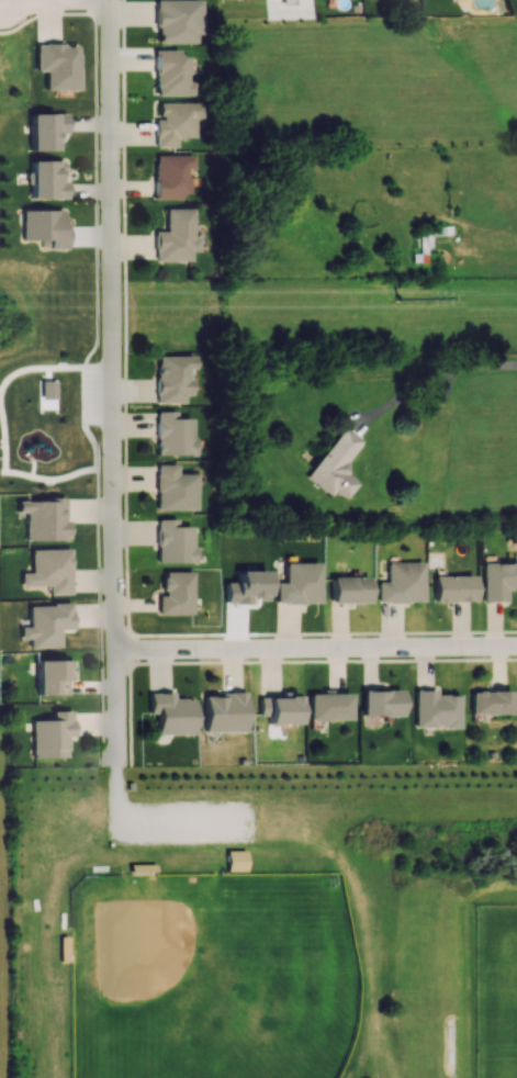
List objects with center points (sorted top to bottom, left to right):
road: (55, 0)
building: (176, 21)
building: (57, 66)
building: (170, 74)
building: (175, 122)
building: (45, 130)
building: (171, 176)
building: (46, 180)
building: (44, 227)
road: (89, 235)
building: (175, 236)
power tower: (403, 304)
road: (83, 378)
building: (171, 380)
road: (113, 382)
road: (438, 382)
parking lot: (93, 393)
road: (4, 431)
building: (172, 435)
building: (335, 465)
building: (173, 489)
road: (89, 510)
building: (43, 518)
building: (173, 542)
building: (48, 571)
building: (498, 580)
building: (402, 583)
building: (297, 584)
building: (452, 588)
building: (349, 589)
building: (176, 593)
building: (45, 625)
road: (316, 647)
building: (53, 676)
building: (380, 703)
building: (491, 703)
building: (328, 706)
building: (279, 709)
building: (435, 709)
building: (224, 712)
building: (171, 714)
building: (50, 735)
parking lot: (181, 821)
road: (148, 824)
building: (236, 860)
building: (63, 948)
park: (211, 975)
park: (497, 991)

